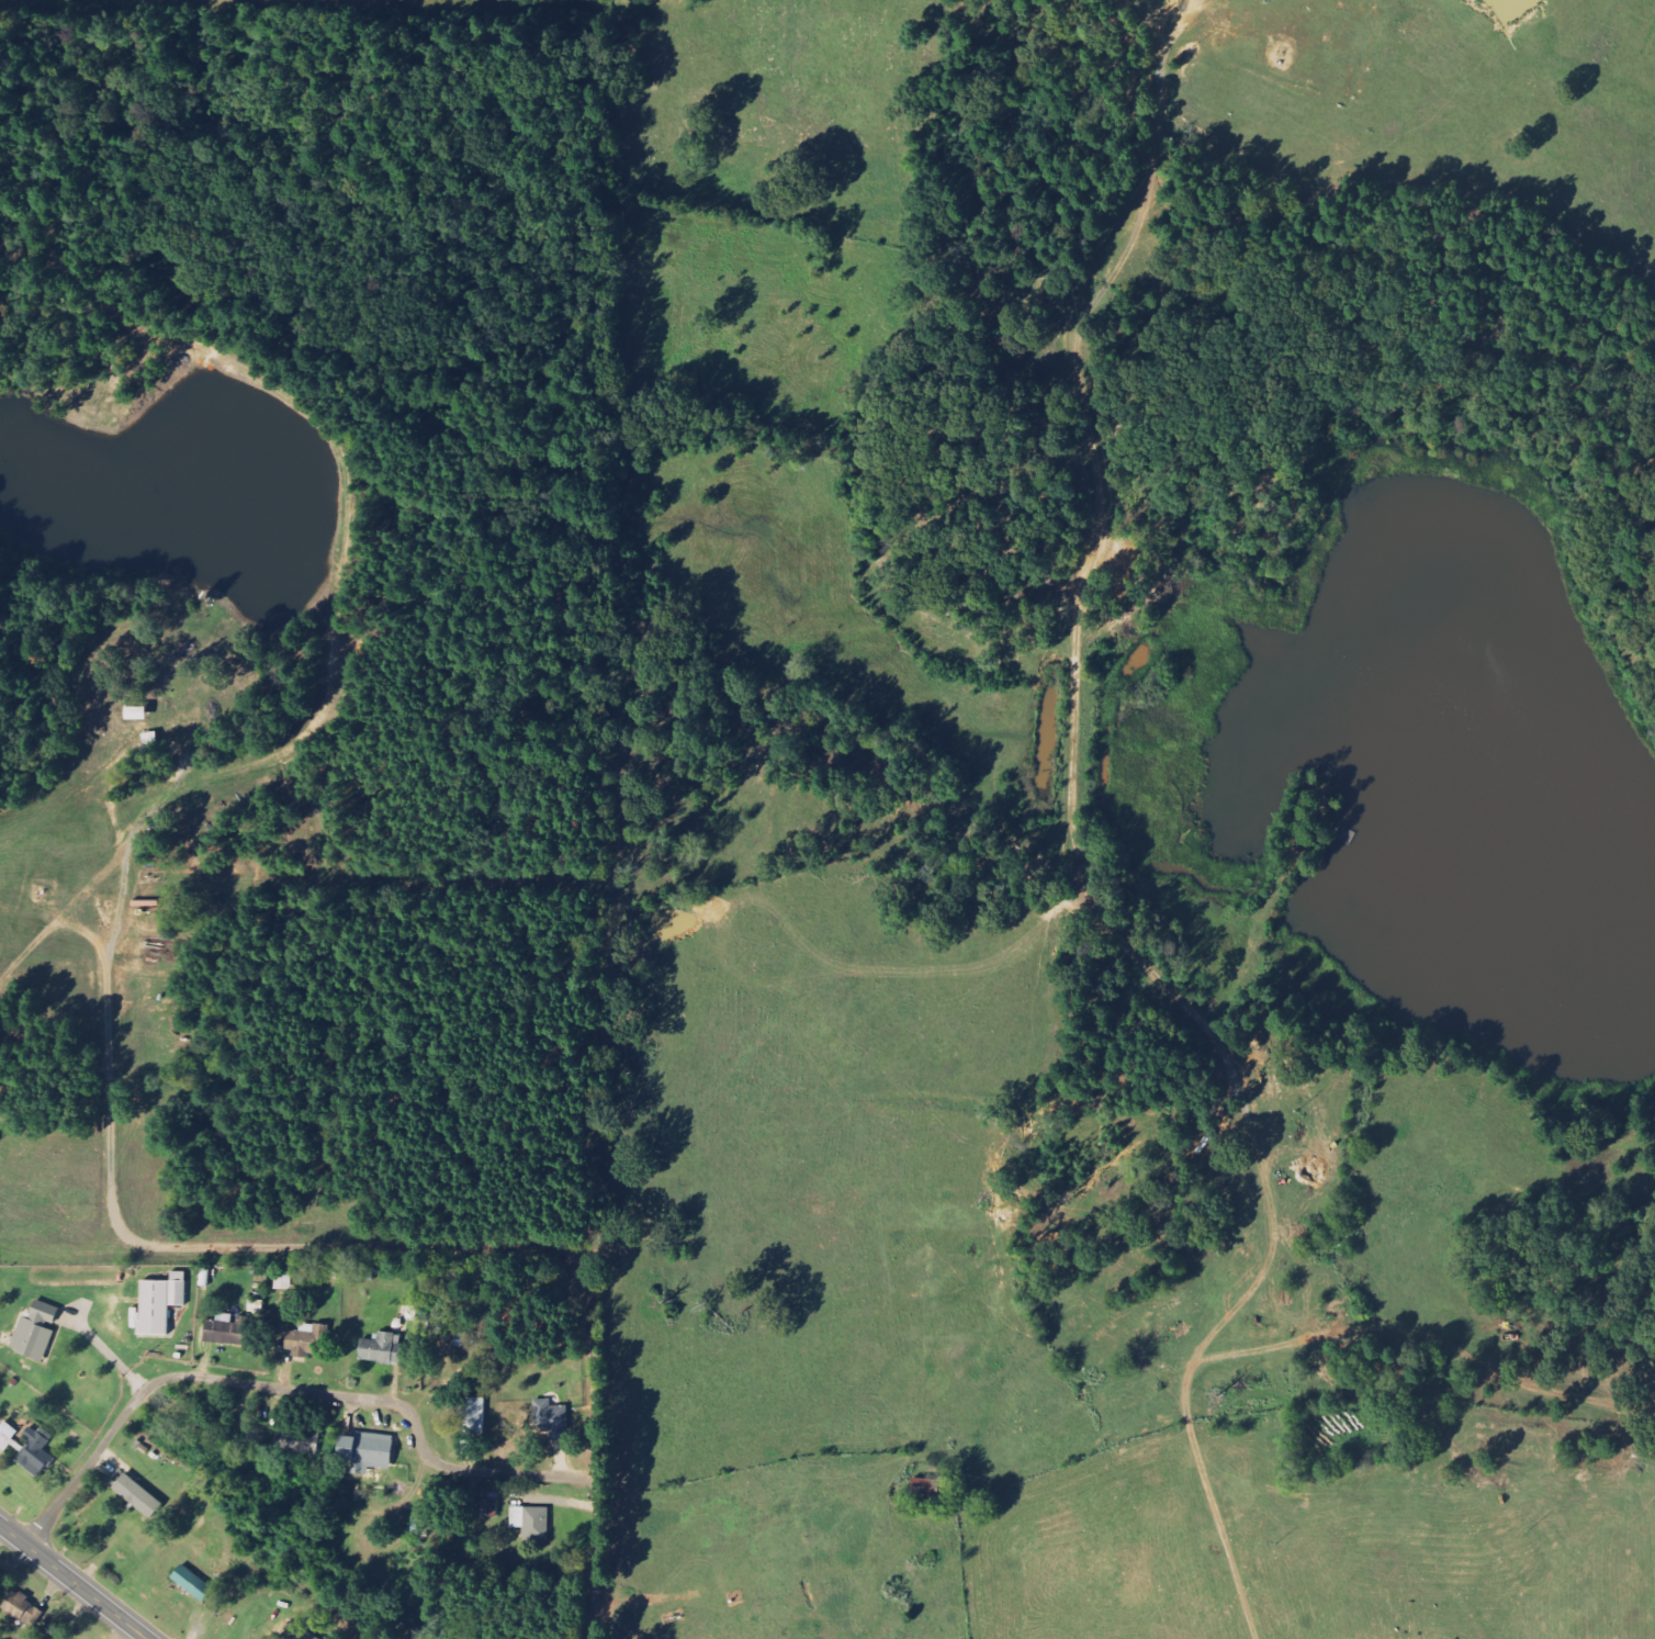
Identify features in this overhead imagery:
building: (137, 712)
building: (284, 1280)
building: (161, 1302)
building: (37, 1331)
building: (226, 1331)
building: (305, 1340)
building: (383, 1347)
road: (282, 1387)
building: (476, 1415)
building: (552, 1418)
building: (8, 1435)
building: (300, 1441)
building: (37, 1450)
building: (368, 1451)
building: (138, 1495)
building: (532, 1522)
road: (74, 1581)
building: (193, 1583)
building: (23, 1607)
building: (300, 1634)

